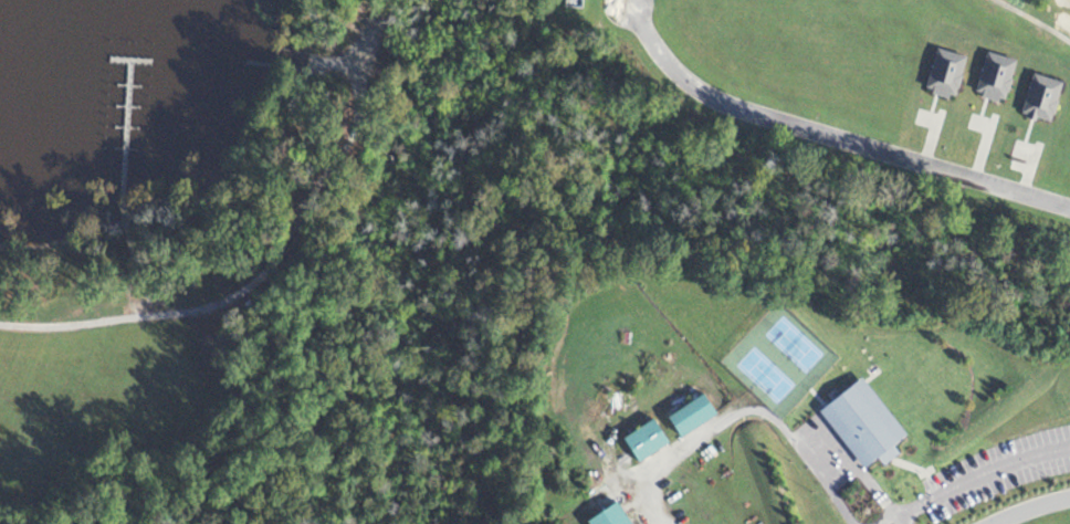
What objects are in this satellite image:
building: (571, 2)
road: (1027, 23)
building: (940, 77)
building: (992, 81)
building: (1039, 102)
road: (922, 123)
road: (976, 127)
road: (826, 138)
road: (927, 140)
road: (979, 149)
road: (1020, 154)
road: (1016, 170)
road: (1025, 170)
park: (790, 347)
park: (762, 377)
road: (741, 417)
building: (690, 421)
building: (860, 428)
building: (642, 446)
parking lot: (994, 472)
road: (976, 478)
road: (1031, 510)
building: (608, 518)
road: (890, 522)

